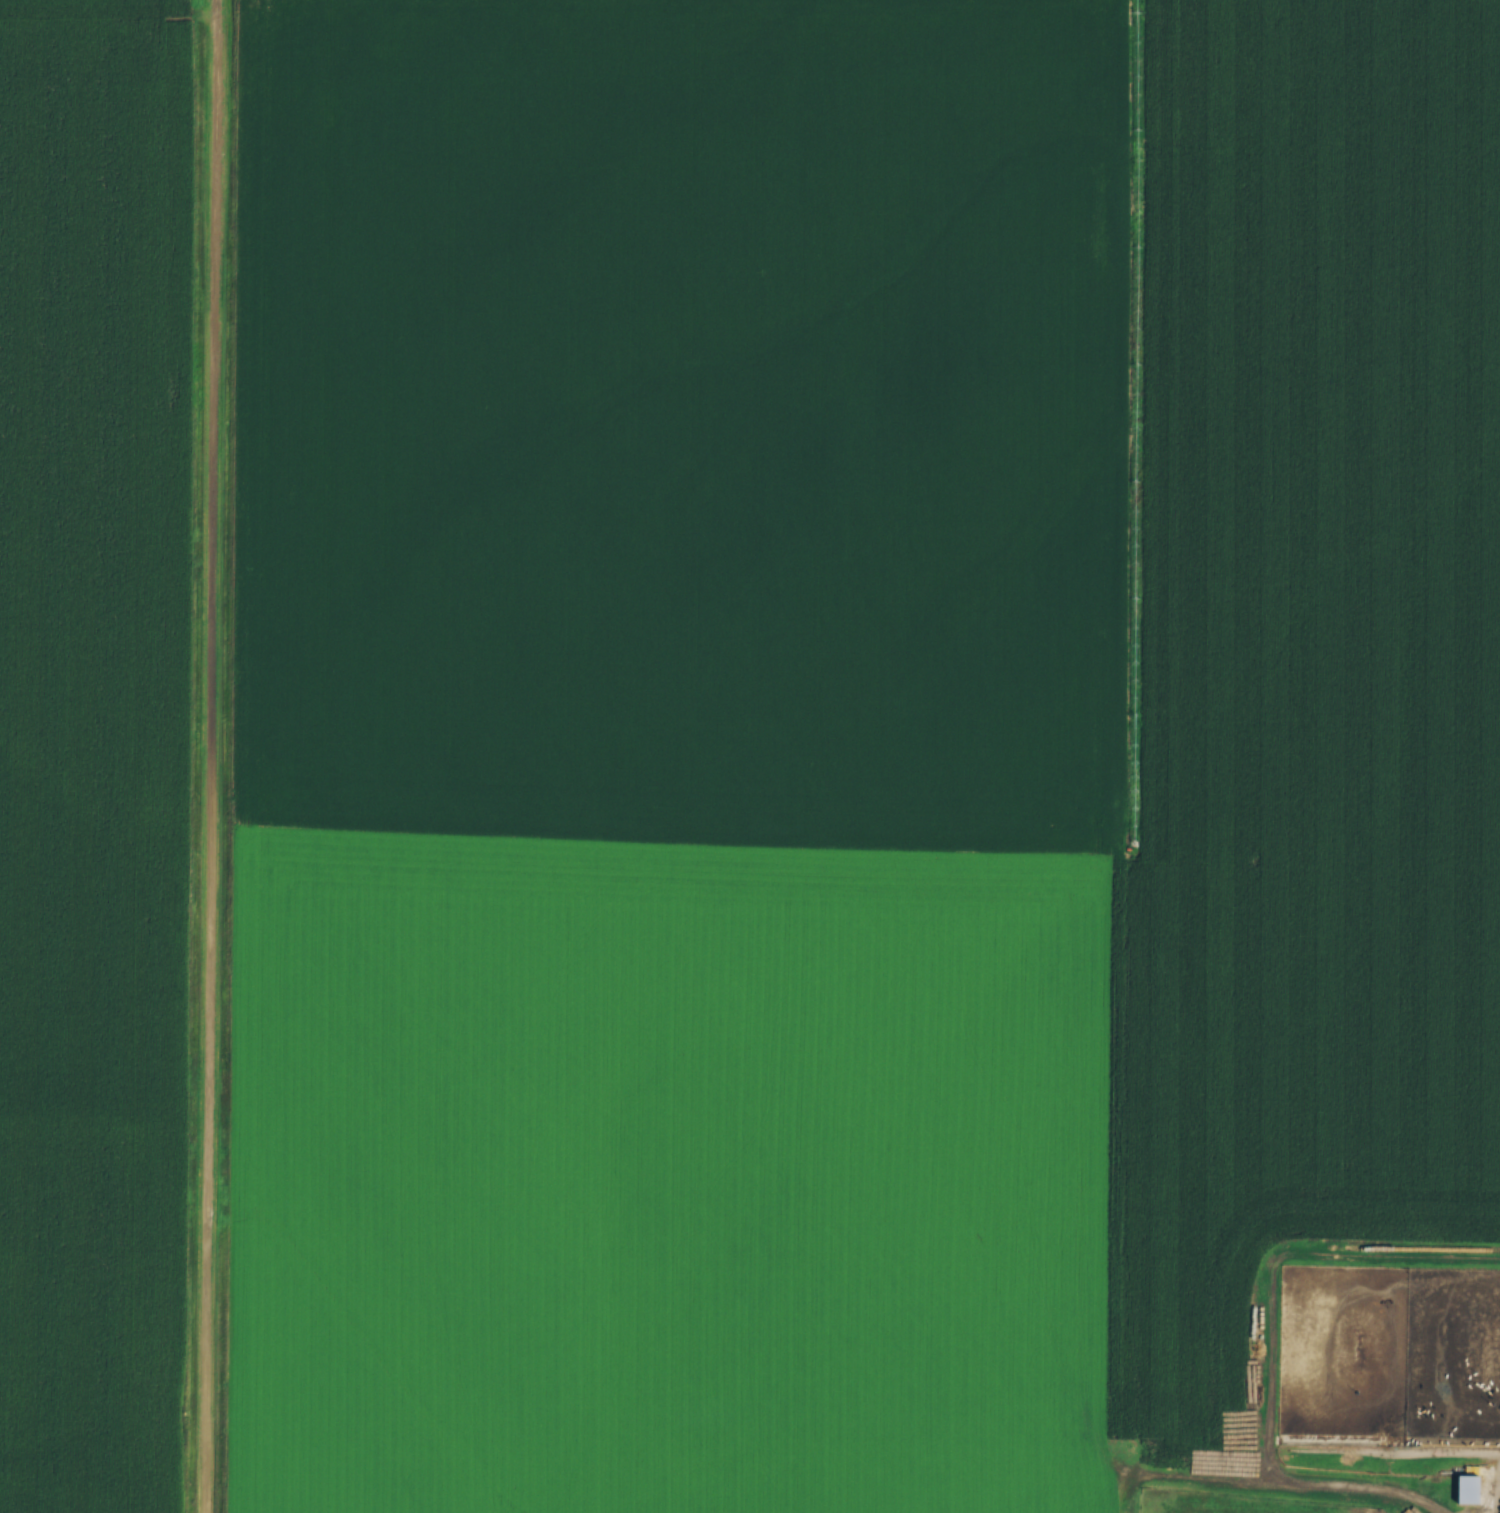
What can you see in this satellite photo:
road: (208, 756)
building: (1472, 1485)

